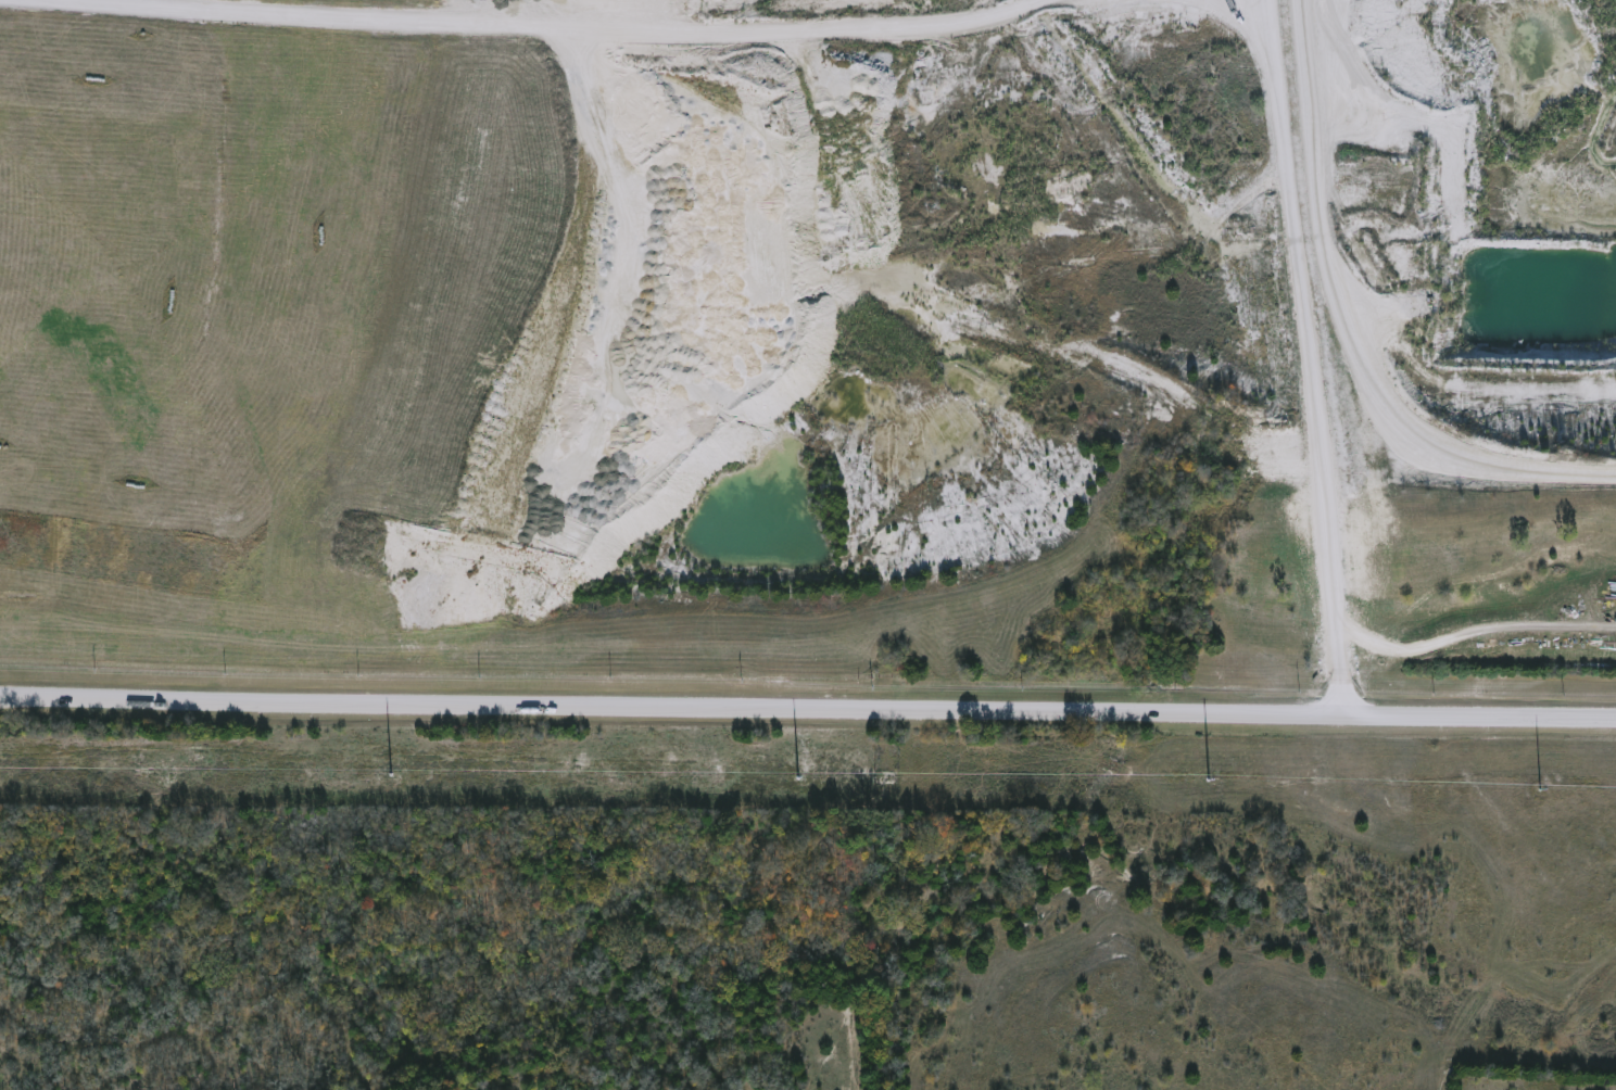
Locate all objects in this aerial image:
road: (263, 11)
road: (665, 22)
road: (1351, 324)
road: (807, 715)

